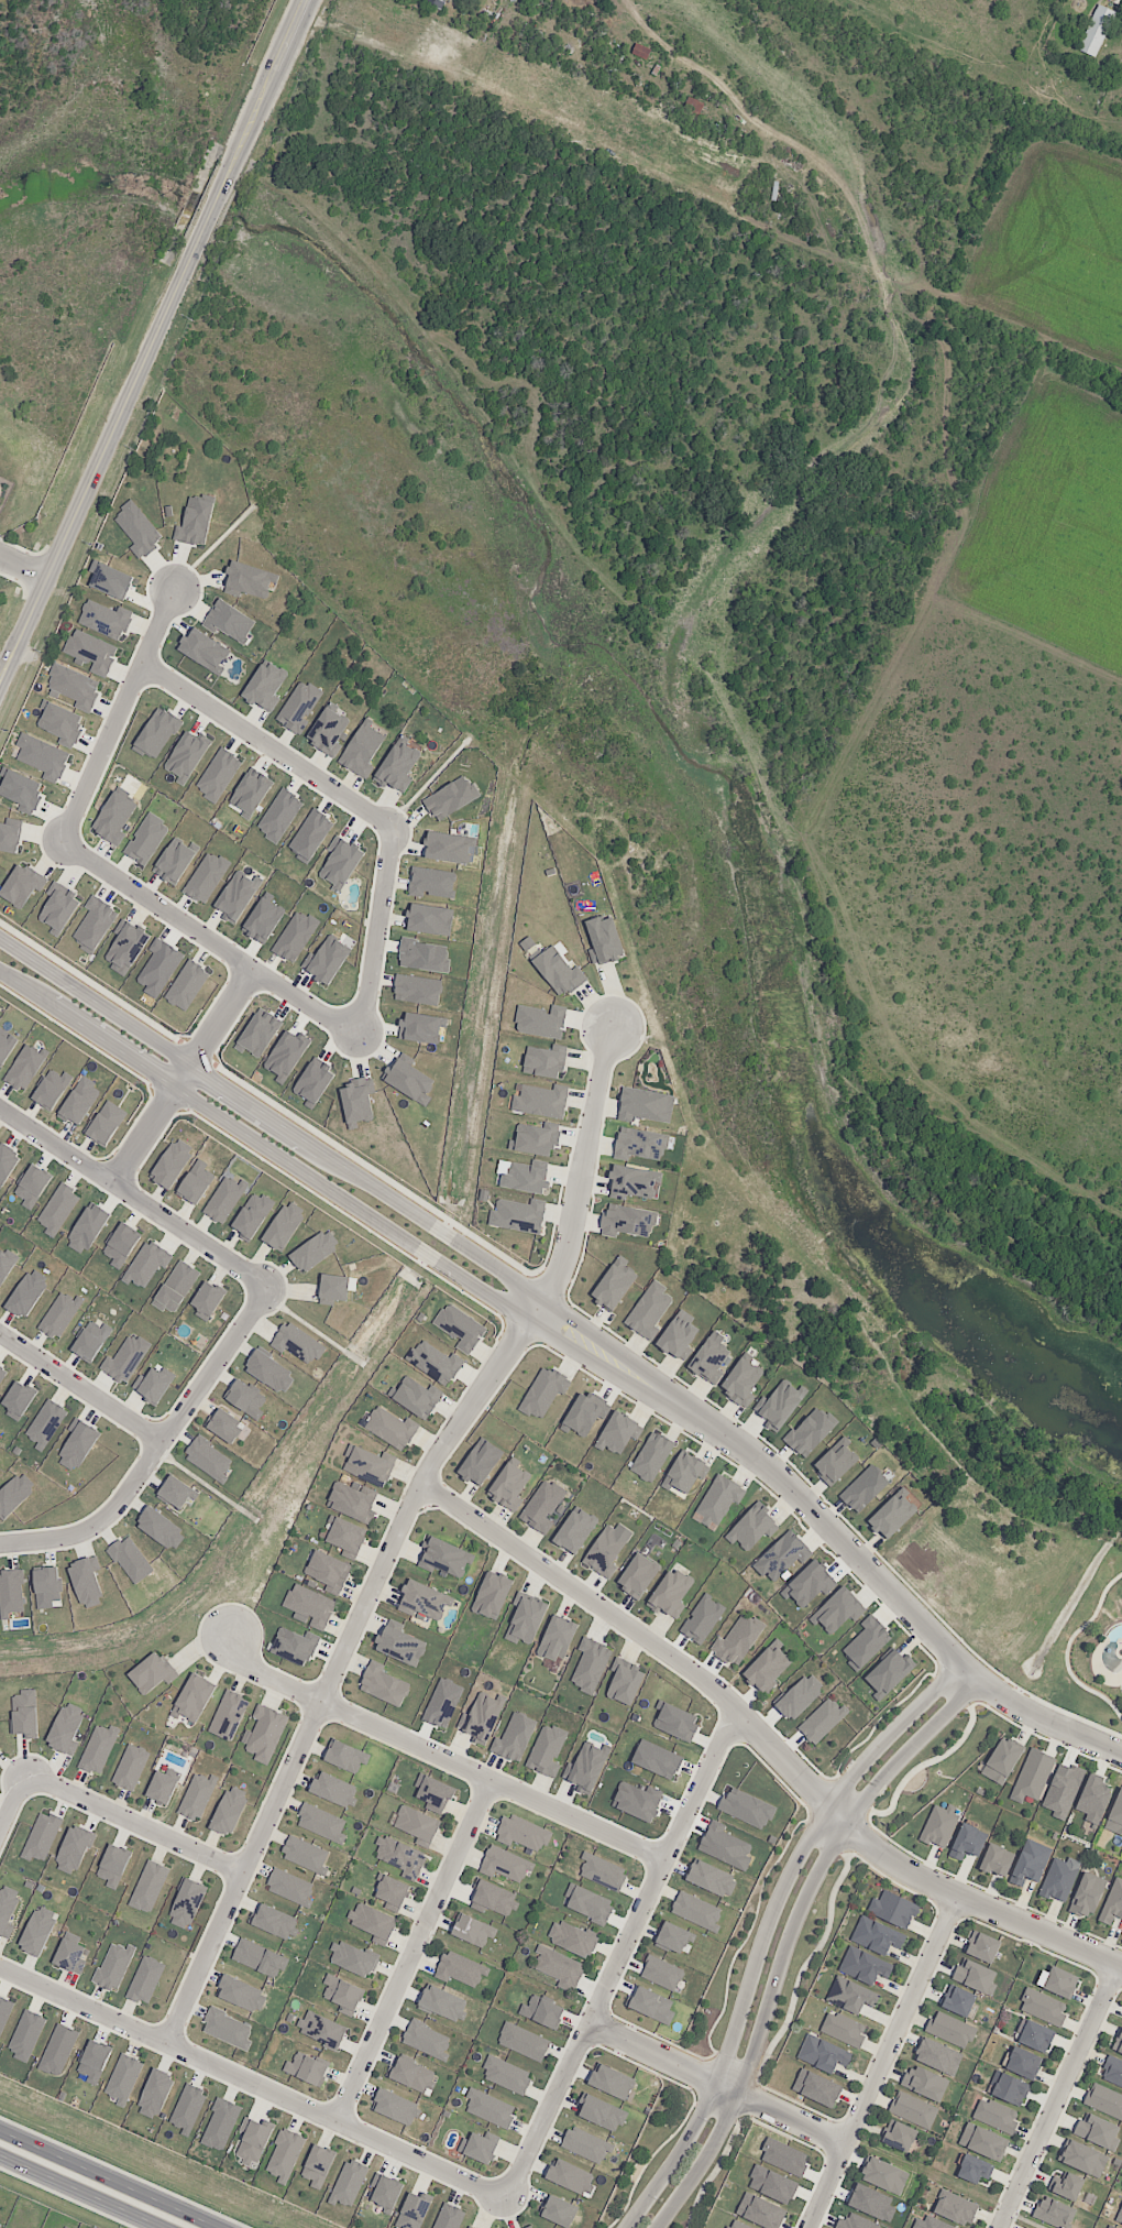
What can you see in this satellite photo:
building: (437, 3)
building: (1096, 30)
building: (640, 51)
building: (693, 108)
road: (153, 341)
building: (195, 522)
building: (137, 529)
road: (23, 566)
building: (110, 579)
building: (249, 580)
building: (106, 619)
building: (230, 621)
building: (204, 649)
building: (91, 652)
building: (74, 686)
building: (266, 686)
building: (299, 707)
road: (118, 713)
building: (61, 722)
building: (328, 731)
building: (156, 733)
road: (268, 745)
building: (362, 749)
building: (43, 756)
building: (186, 756)
building: (397, 767)
building: (218, 774)
building: (22, 790)
building: (252, 791)
building: (449, 798)
building: (279, 815)
building: (114, 818)
building: (310, 836)
building: (9, 837)
building: (146, 839)
building: (447, 847)
building: (174, 861)
building: (340, 862)
building: (206, 877)
building: (432, 882)
building: (22, 885)
building: (237, 897)
building: (59, 907)
building: (430, 919)
building: (263, 920)
building: (95, 924)
building: (295, 936)
road: (380, 938)
building: (604, 940)
road: (212, 943)
building: (127, 946)
building: (424, 955)
building: (327, 960)
building: (159, 966)
building: (559, 971)
building: (187, 985)
building: (417, 989)
building: (541, 1022)
building: (420, 1027)
building: (260, 1033)
building: (7, 1045)
building: (286, 1055)
building: (544, 1061)
building: (24, 1068)
road: (183, 1075)
building: (408, 1080)
building: (313, 1082)
building: (52, 1088)
building: (79, 1101)
building: (358, 1101)
building: (542, 1101)
building: (645, 1105)
building: (106, 1123)
building: (533, 1139)
building: (640, 1143)
building: (7, 1162)
building: (172, 1162)
building: (525, 1178)
building: (196, 1182)
building: (631, 1182)
building: (32, 1187)
road: (135, 1195)
building: (224, 1199)
building: (58, 1209)
building: (518, 1214)
building: (252, 1215)
building: (627, 1221)
building: (284, 1225)
building: (87, 1228)
building: (121, 1245)
building: (315, 1249)
building: (146, 1264)
building: (4, 1267)
building: (614, 1284)
building: (176, 1287)
building: (333, 1288)
building: (28, 1292)
building: (208, 1300)
building: (649, 1310)
building: (59, 1314)
building: (460, 1328)
building: (679, 1335)
road: (576, 1336)
building: (91, 1340)
building: (297, 1343)
building: (125, 1358)
building: (711, 1358)
building: (435, 1362)
building: (2, 1372)
building: (269, 1372)
building: (741, 1381)
building: (153, 1384)
road: (82, 1388)
building: (543, 1391)
building: (416, 1397)
building: (245, 1398)
building: (19, 1399)
building: (780, 1404)
building: (585, 1412)
building: (45, 1423)
building: (223, 1424)
building: (392, 1428)
building: (619, 1432)
building: (809, 1432)
building: (77, 1444)
road: (159, 1451)
building: (651, 1456)
building: (209, 1459)
building: (836, 1461)
building: (481, 1462)
building: (685, 1472)
building: (509, 1486)
building: (864, 1488)
building: (177, 1492)
building: (14, 1494)
building: (718, 1499)
building: (352, 1500)
building: (542, 1506)
building: (891, 1516)
building: (754, 1528)
building: (162, 1529)
building: (574, 1530)
road: (397, 1533)
building: (345, 1535)
building: (605, 1551)
building: (446, 1555)
building: (782, 1557)
building: (131, 1560)
building: (329, 1571)
building: (638, 1575)
building: (86, 1583)
building: (47, 1584)
building: (810, 1584)
building: (12, 1591)
building: (670, 1594)
building: (492, 1595)
building: (422, 1601)
building: (310, 1605)
building: (837, 1610)
building: (702, 1618)
building: (526, 1619)
building: (557, 1638)
building: (737, 1641)
building: (867, 1642)
building: (399, 1643)
building: (295, 1646)
building: (768, 1667)
building: (153, 1673)
building: (888, 1673)
building: (625, 1681)
building: (384, 1684)
building: (800, 1696)
building: (193, 1699)
building: (442, 1703)
building: (25, 1713)
building: (228, 1715)
building: (480, 1717)
building: (822, 1721)
building: (676, 1722)
building: (66, 1729)
building: (265, 1733)
building: (514, 1737)
road: (766, 1738)
building: (98, 1748)
building: (547, 1750)
road: (439, 1754)
building: (345, 1756)
building: (657, 1759)
building: (1002, 1760)
building: (131, 1767)
building: (584, 1768)
building: (1033, 1774)
building: (162, 1787)
building: (333, 1789)
building: (1063, 1790)
building: (433, 1793)
building: (197, 1796)
building: (1093, 1799)
road: (12, 1800)
building: (636, 1802)
building: (747, 1807)
building: (230, 1810)
building: (1115, 1815)
road: (134, 1823)
building: (321, 1823)
building: (416, 1824)
building: (939, 1825)
building: (522, 1832)
building: (42, 1836)
building: (968, 1842)
building: (725, 1846)
building: (74, 1849)
building: (400, 1854)
building: (305, 1855)
building: (997, 1860)
building: (1030, 1863)
building: (505, 1864)
building: (113, 1866)
building: (602, 1871)
building: (712, 1878)
building: (1058, 1880)
building: (148, 1886)
building: (290, 1887)
building: (393, 1892)
building: (1087, 1894)
building: (494, 1898)
building: (1112, 1902)
building: (187, 1903)
building: (587, 1903)
building: (7, 1909)
building: (893, 1909)
building: (696, 1911)
building: (274, 1922)
building: (373, 1922)
road: (765, 1926)
building: (38, 1930)
building: (473, 1930)
road: (787, 1934)
building: (877, 1935)
building: (673, 1937)
building: (572, 1938)
building: (982, 1946)
road: (413, 1950)
road: (620, 1952)
building: (71, 1956)
building: (260, 1958)
building: (353, 1958)
building: (114, 1966)
building: (865, 1966)
building: (559, 1967)
building: (460, 1968)
building: (661, 1973)
building: (976, 1976)
building: (145, 1979)
building: (1058, 1981)
building: (242, 1994)
building: (343, 1994)
building: (850, 1995)
building: (958, 2000)
building: (443, 2003)
building: (651, 2005)
building: (1043, 2006)
building: (541, 2011)
building: (4, 2013)
building: (228, 2029)
building: (321, 2029)
building: (844, 2029)
building: (950, 2029)
building: (26, 2034)
building: (1036, 2036)
building: (427, 2040)
building: (524, 2042)
building: (1118, 2042)
building: (58, 2050)
building: (823, 2054)
building: (937, 2056)
building: (94, 2062)
road: (882, 2062)
building: (1023, 2063)
building: (306, 2068)
building: (1112, 2071)
building: (411, 2074)
building: (507, 2075)
building: (123, 2078)
building: (612, 2082)
road: (252, 2083)
building: (924, 2083)
road: (716, 2084)
building: (1009, 2088)
building: (155, 2094)
road: (1058, 2096)
building: (1104, 2099)
building: (187, 2107)
building: (396, 2107)
building: (490, 2108)
building: (913, 2109)
building: (603, 2112)
building: (996, 2114)
building: (220, 2125)
building: (1098, 2131)
building: (898, 2136)
building: (253, 2141)
building: (983, 2141)
building: (585, 2144)
building: (479, 2148)
building: (285, 2154)
building: (1082, 2158)
building: (318, 2166)
building: (975, 2169)
building: (884, 2175)
building: (571, 2176)
building: (349, 2183)
building: (772, 2184)
road: (95, 2185)
building: (1066, 2185)
building: (384, 2191)
building: (956, 2207)
building: (559, 2210)
building: (760, 2210)
building: (413, 2211)
building: (1054, 2213)
building: (449, 2217)
building: (1119, 2217)
building: (857, 2222)
building: (936, 2224)
building: (737, 2225)
building: (0, 2226)
building: (470, 2227)
building: (530, 2227)
building: (1027, 2227)
building: (1110, 2227)

